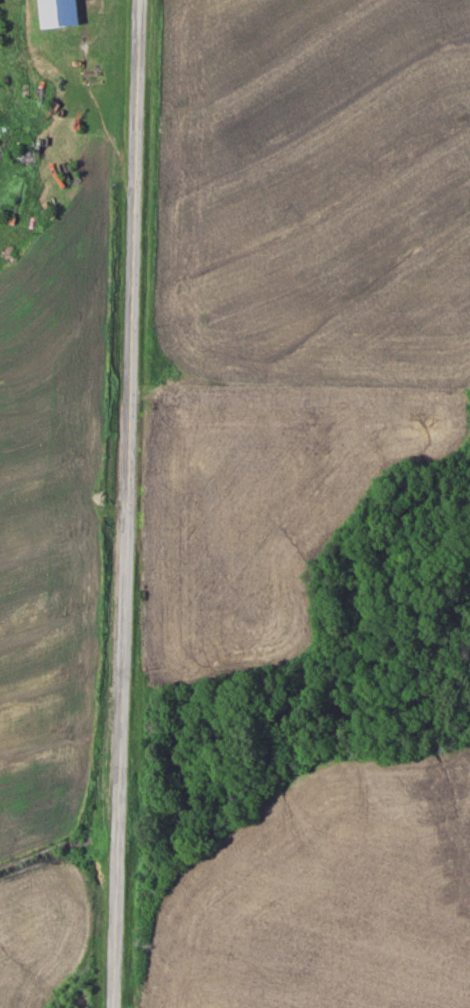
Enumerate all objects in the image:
building: (60, 13)
road: (135, 504)

